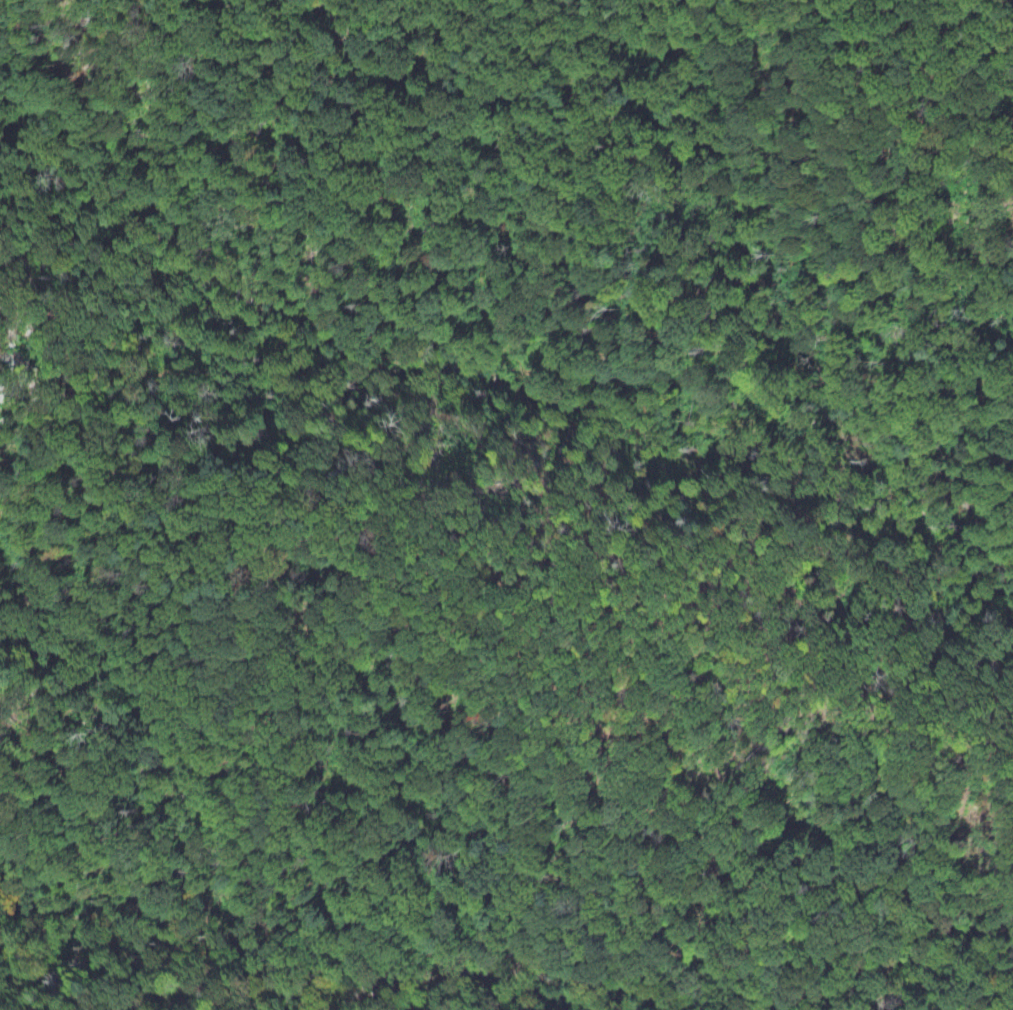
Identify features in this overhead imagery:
road: (580, 364)

